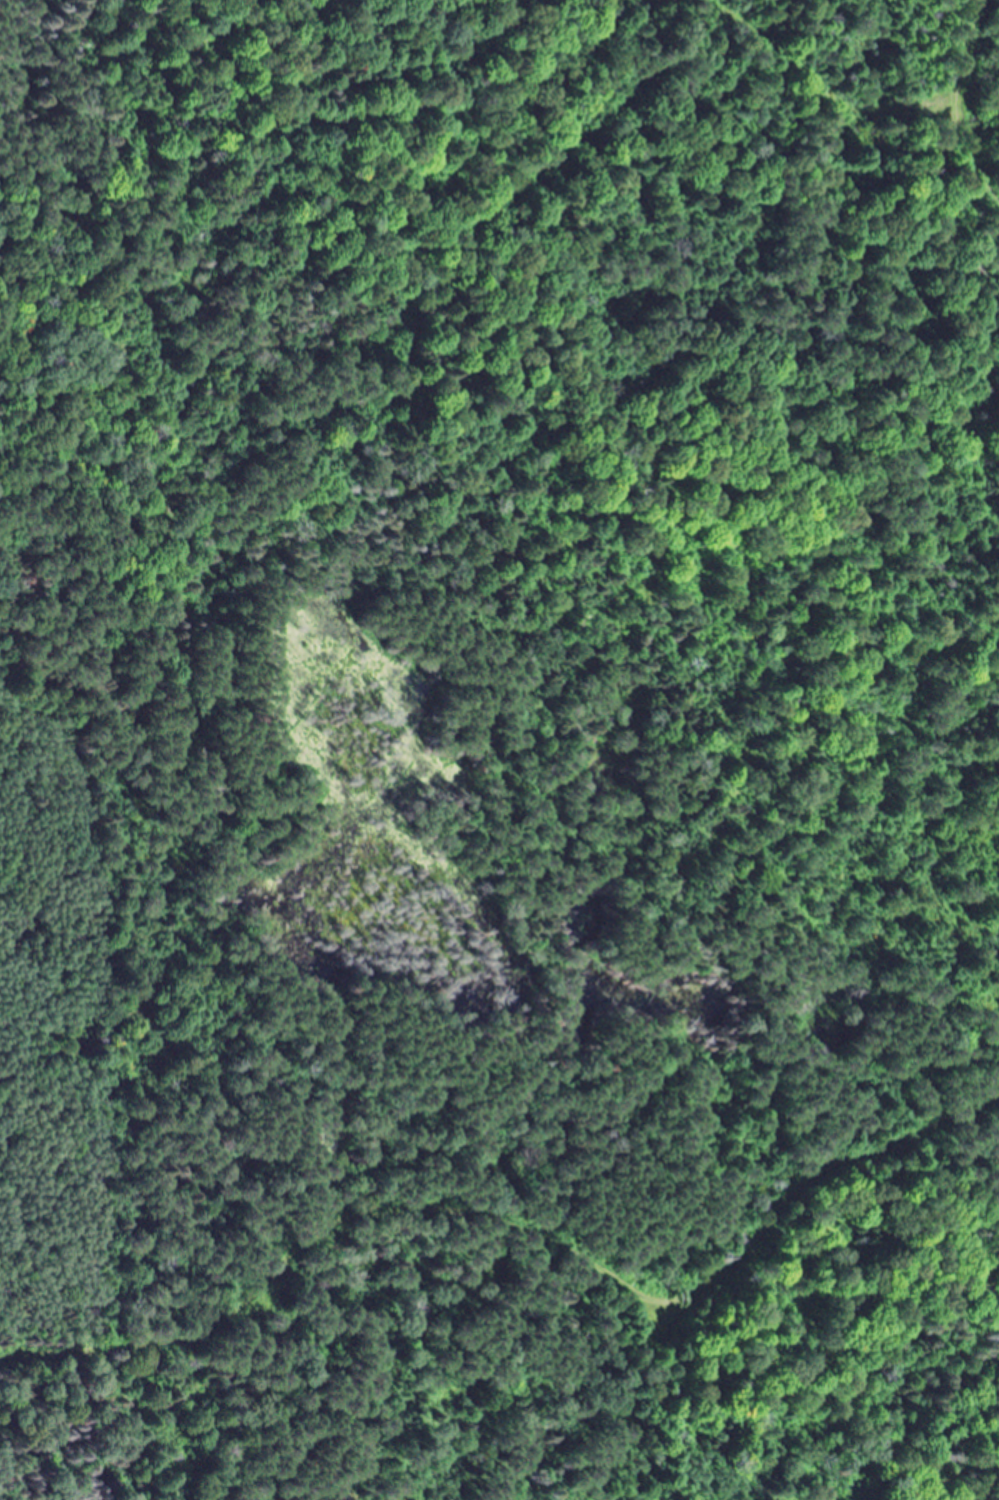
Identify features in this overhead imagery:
road: (958, 103)
road: (523, 1228)

